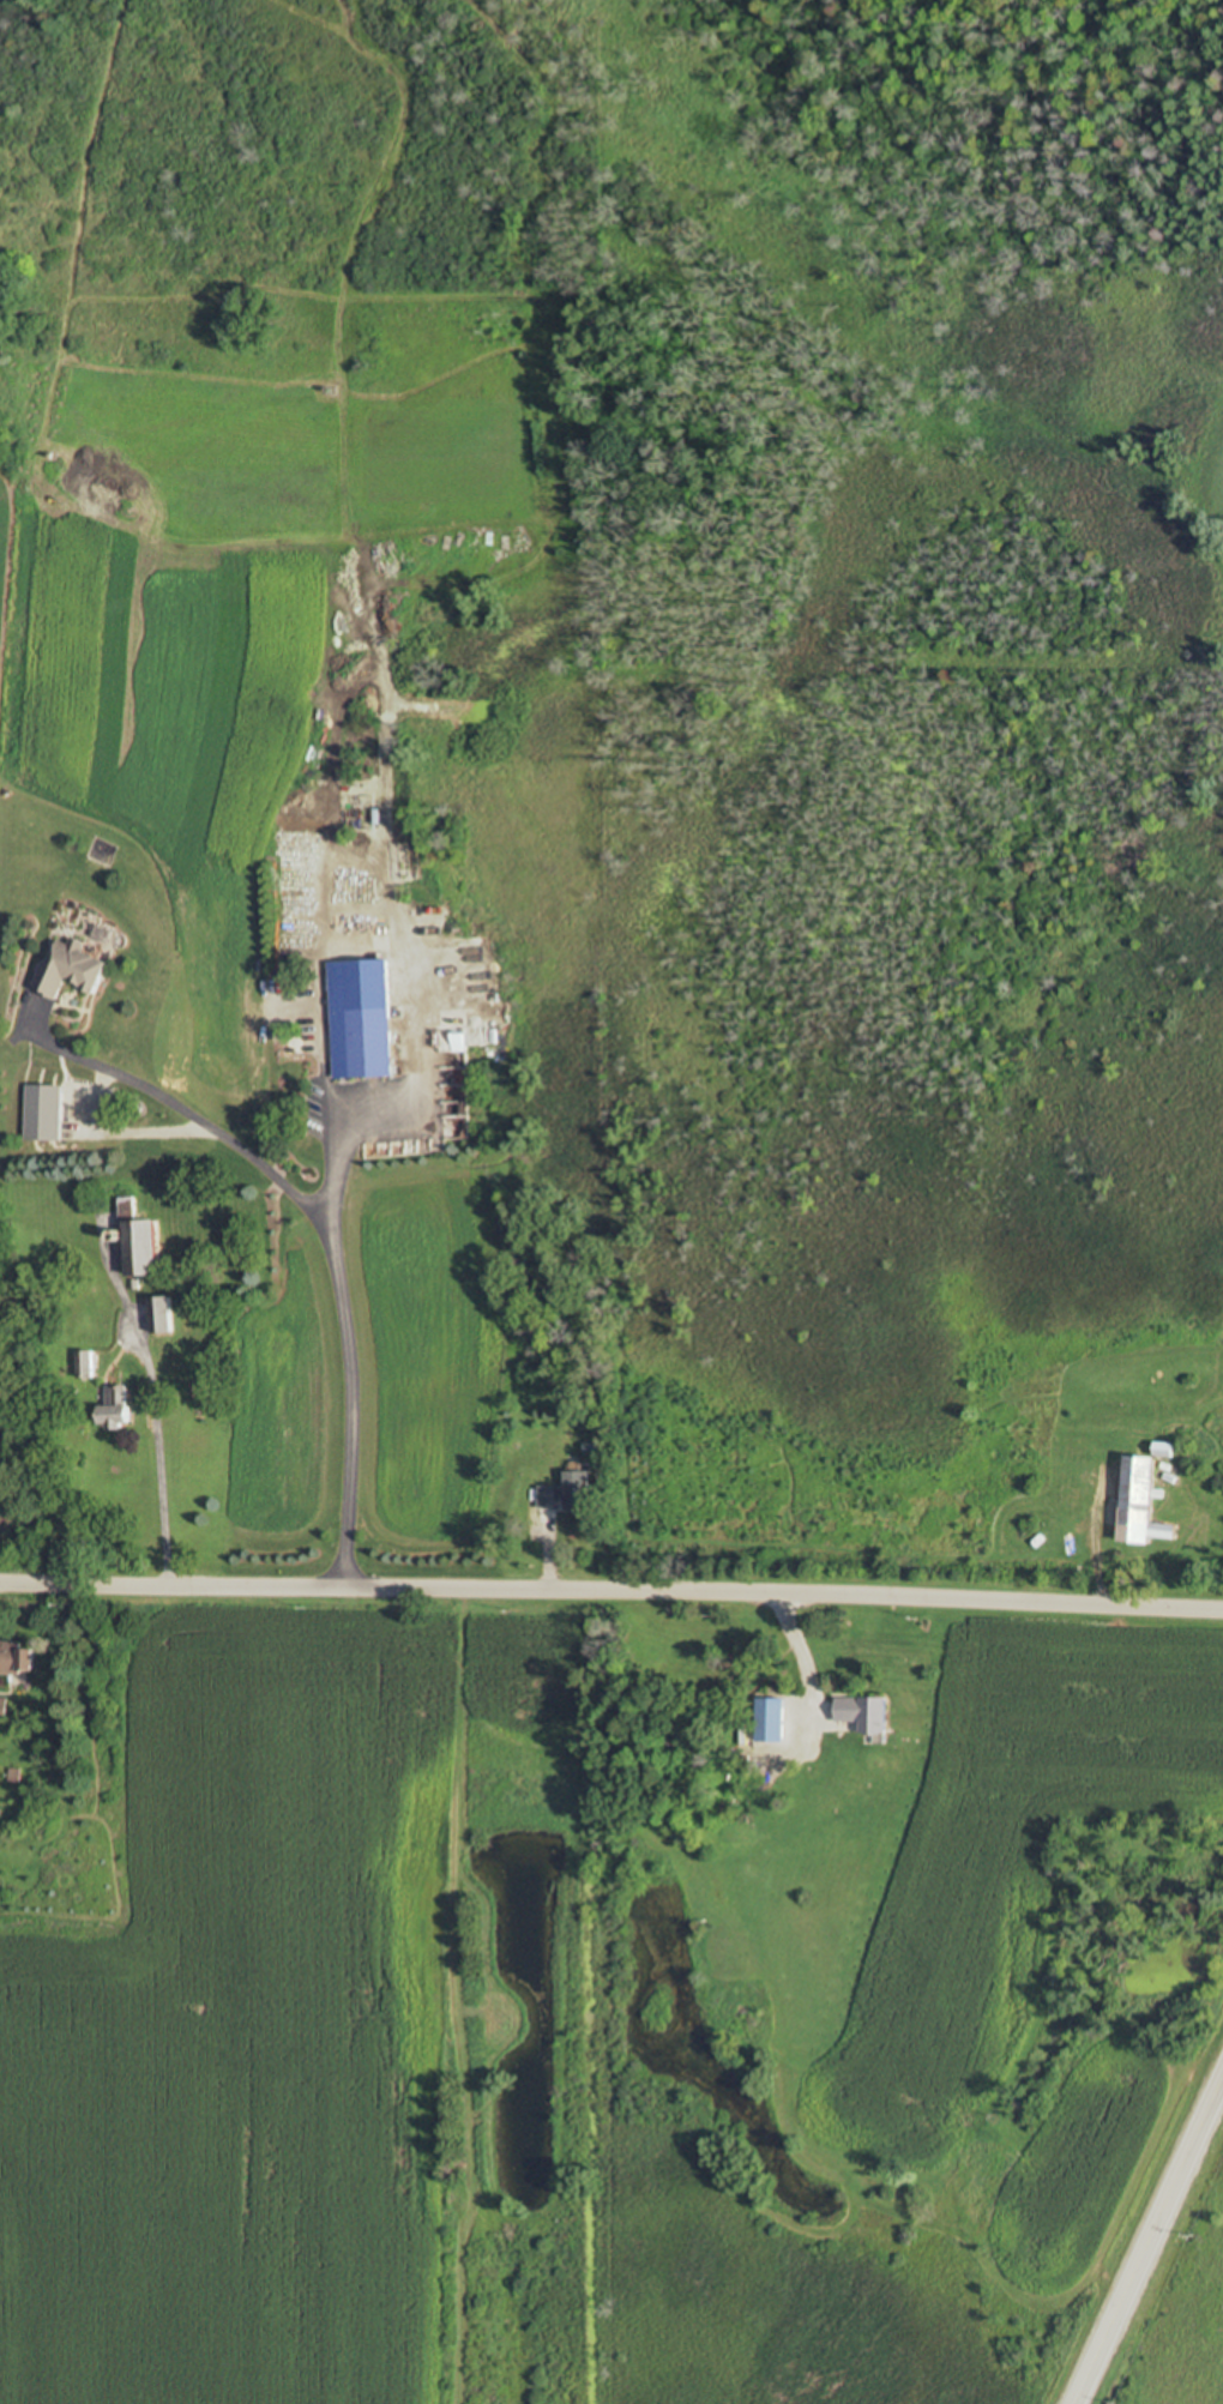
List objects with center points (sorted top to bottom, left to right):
building: (71, 968)
road: (416, 998)
building: (362, 1019)
road: (325, 1070)
road: (329, 1235)
building: (145, 1249)
road: (713, 1312)
building: (163, 1315)
building: (89, 1363)
building: (119, 1406)
road: (155, 1422)
building: (570, 1492)
road: (611, 1593)
building: (19, 1656)
building: (2, 1706)
building: (866, 1712)
building: (734, 1833)
road: (1151, 2246)

